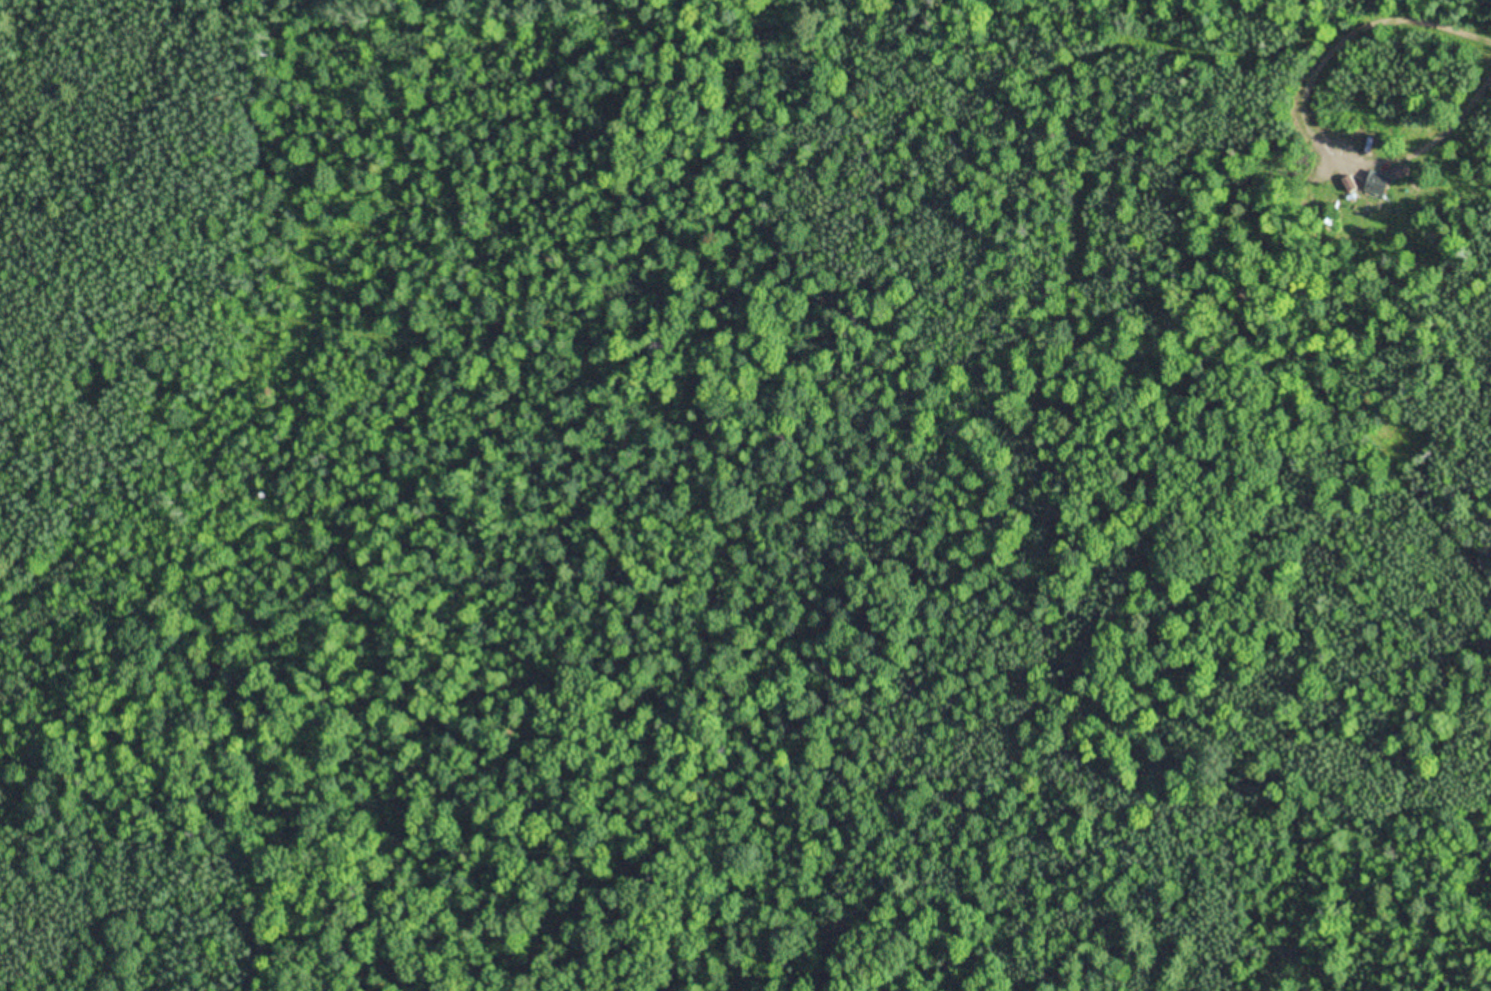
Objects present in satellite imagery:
building: (1382, 183)

